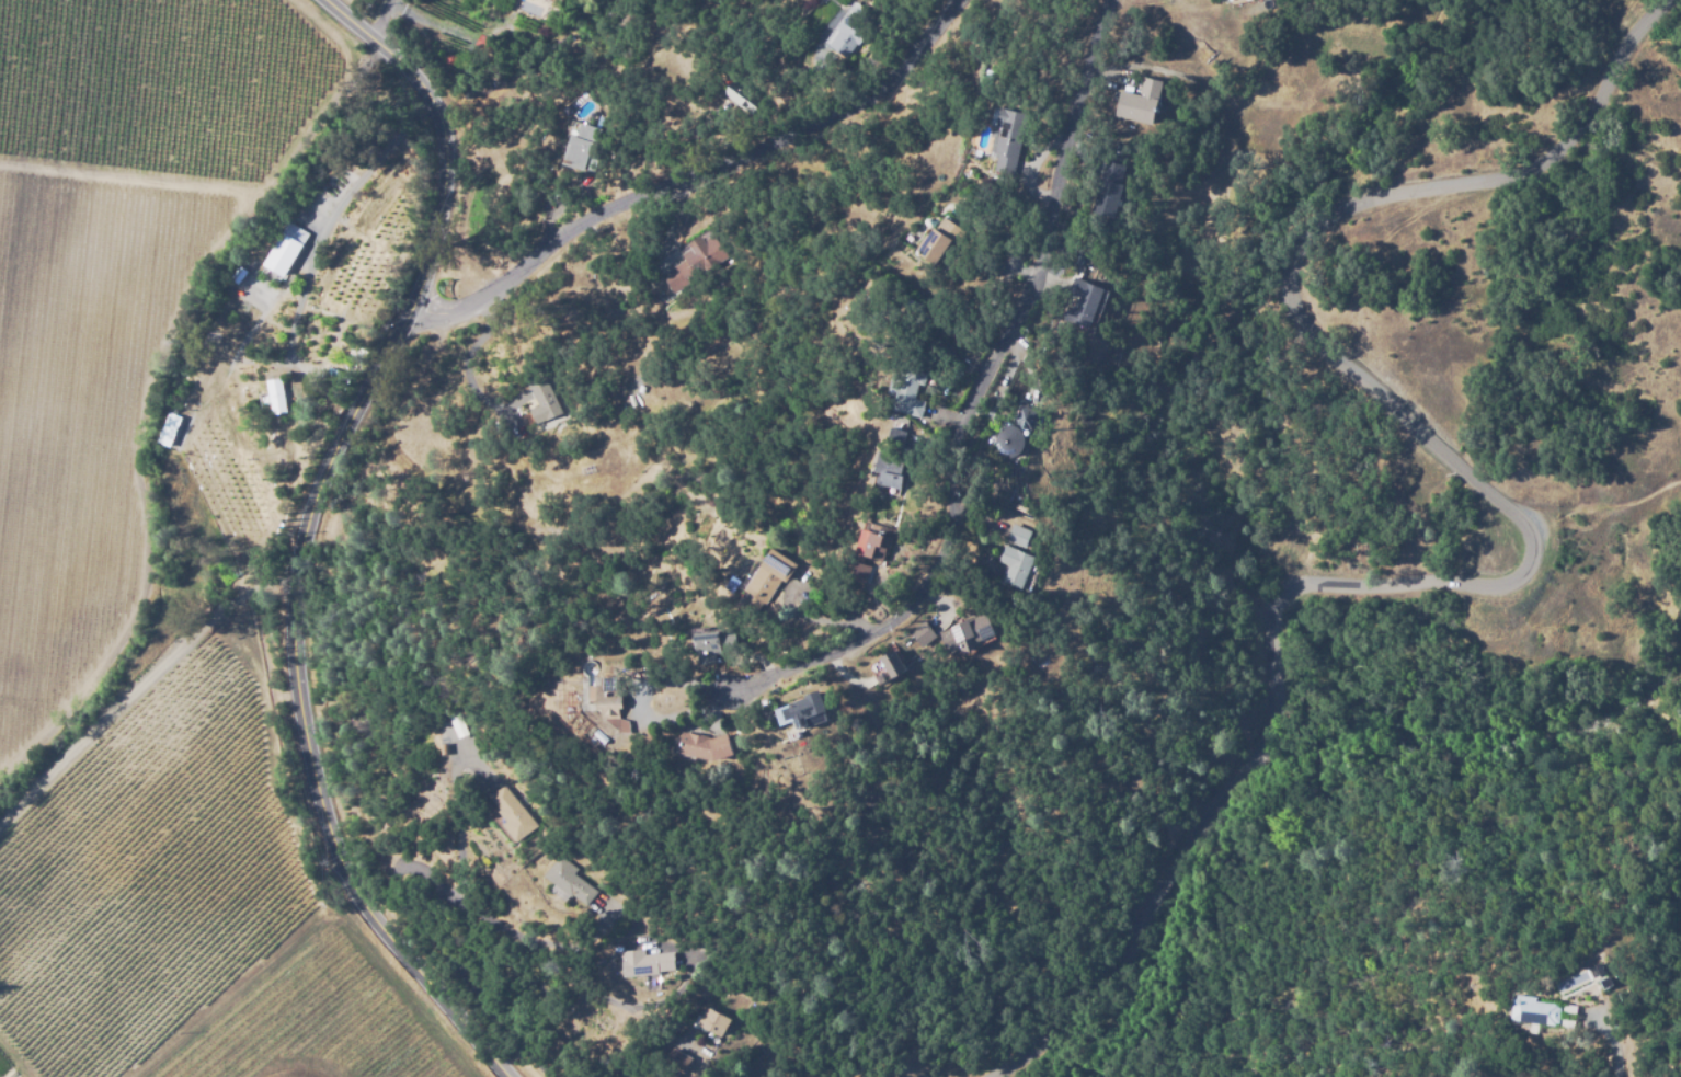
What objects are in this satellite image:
road: (386, 21)
building: (854, 32)
building: (752, 90)
building: (742, 102)
building: (1140, 102)
building: (1006, 146)
building: (583, 149)
road: (699, 174)
road: (118, 175)
building: (1109, 188)
building: (1122, 188)
building: (956, 238)
building: (940, 241)
building: (286, 248)
building: (696, 263)
building: (1082, 302)
building: (907, 391)
building: (922, 391)
building: (274, 397)
road: (972, 403)
building: (544, 404)
building: (895, 436)
building: (913, 436)
building: (1009, 439)
building: (889, 469)
road: (306, 531)
building: (1018, 535)
road: (1528, 535)
building: (874, 543)
building: (1015, 564)
building: (870, 570)
building: (769, 574)
building: (856, 576)
building: (971, 632)
building: (925, 635)
building: (710, 646)
building: (900, 664)
building: (885, 667)
building: (607, 700)
building: (808, 710)
building: (460, 726)
building: (448, 731)
building: (444, 747)
building: (704, 747)
building: (513, 813)
building: (568, 882)
building: (702, 940)
road: (432, 943)
building: (645, 963)
building: (1606, 964)
building: (1616, 977)
building: (1576, 1005)
building: (1542, 1006)
building: (1573, 1021)
building: (713, 1023)
road: (1613, 1045)
building: (676, 1064)

